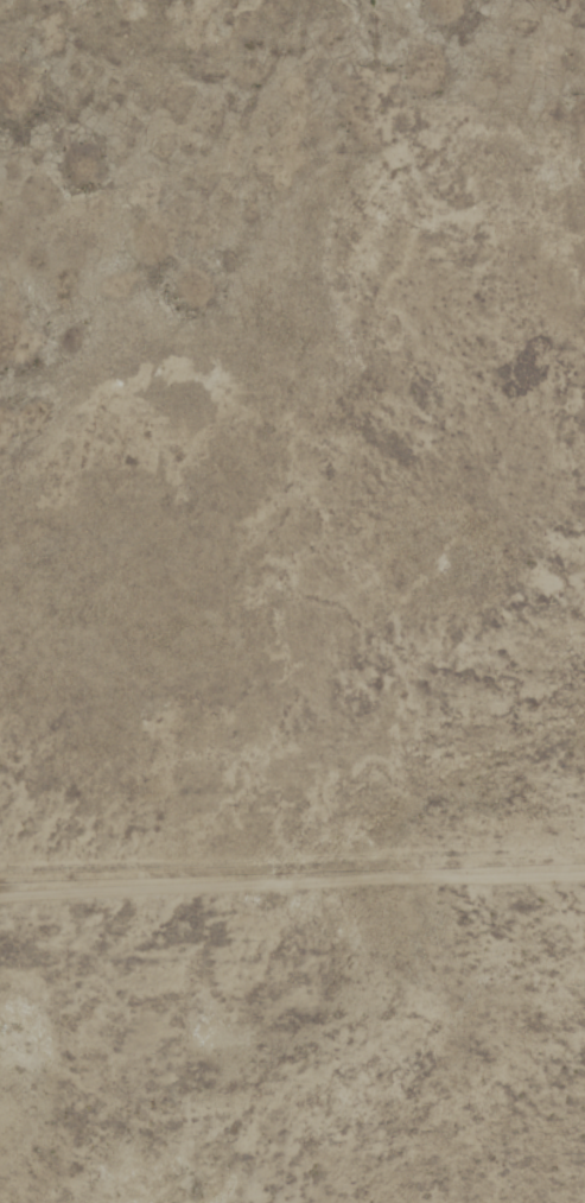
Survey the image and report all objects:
road: (292, 857)

